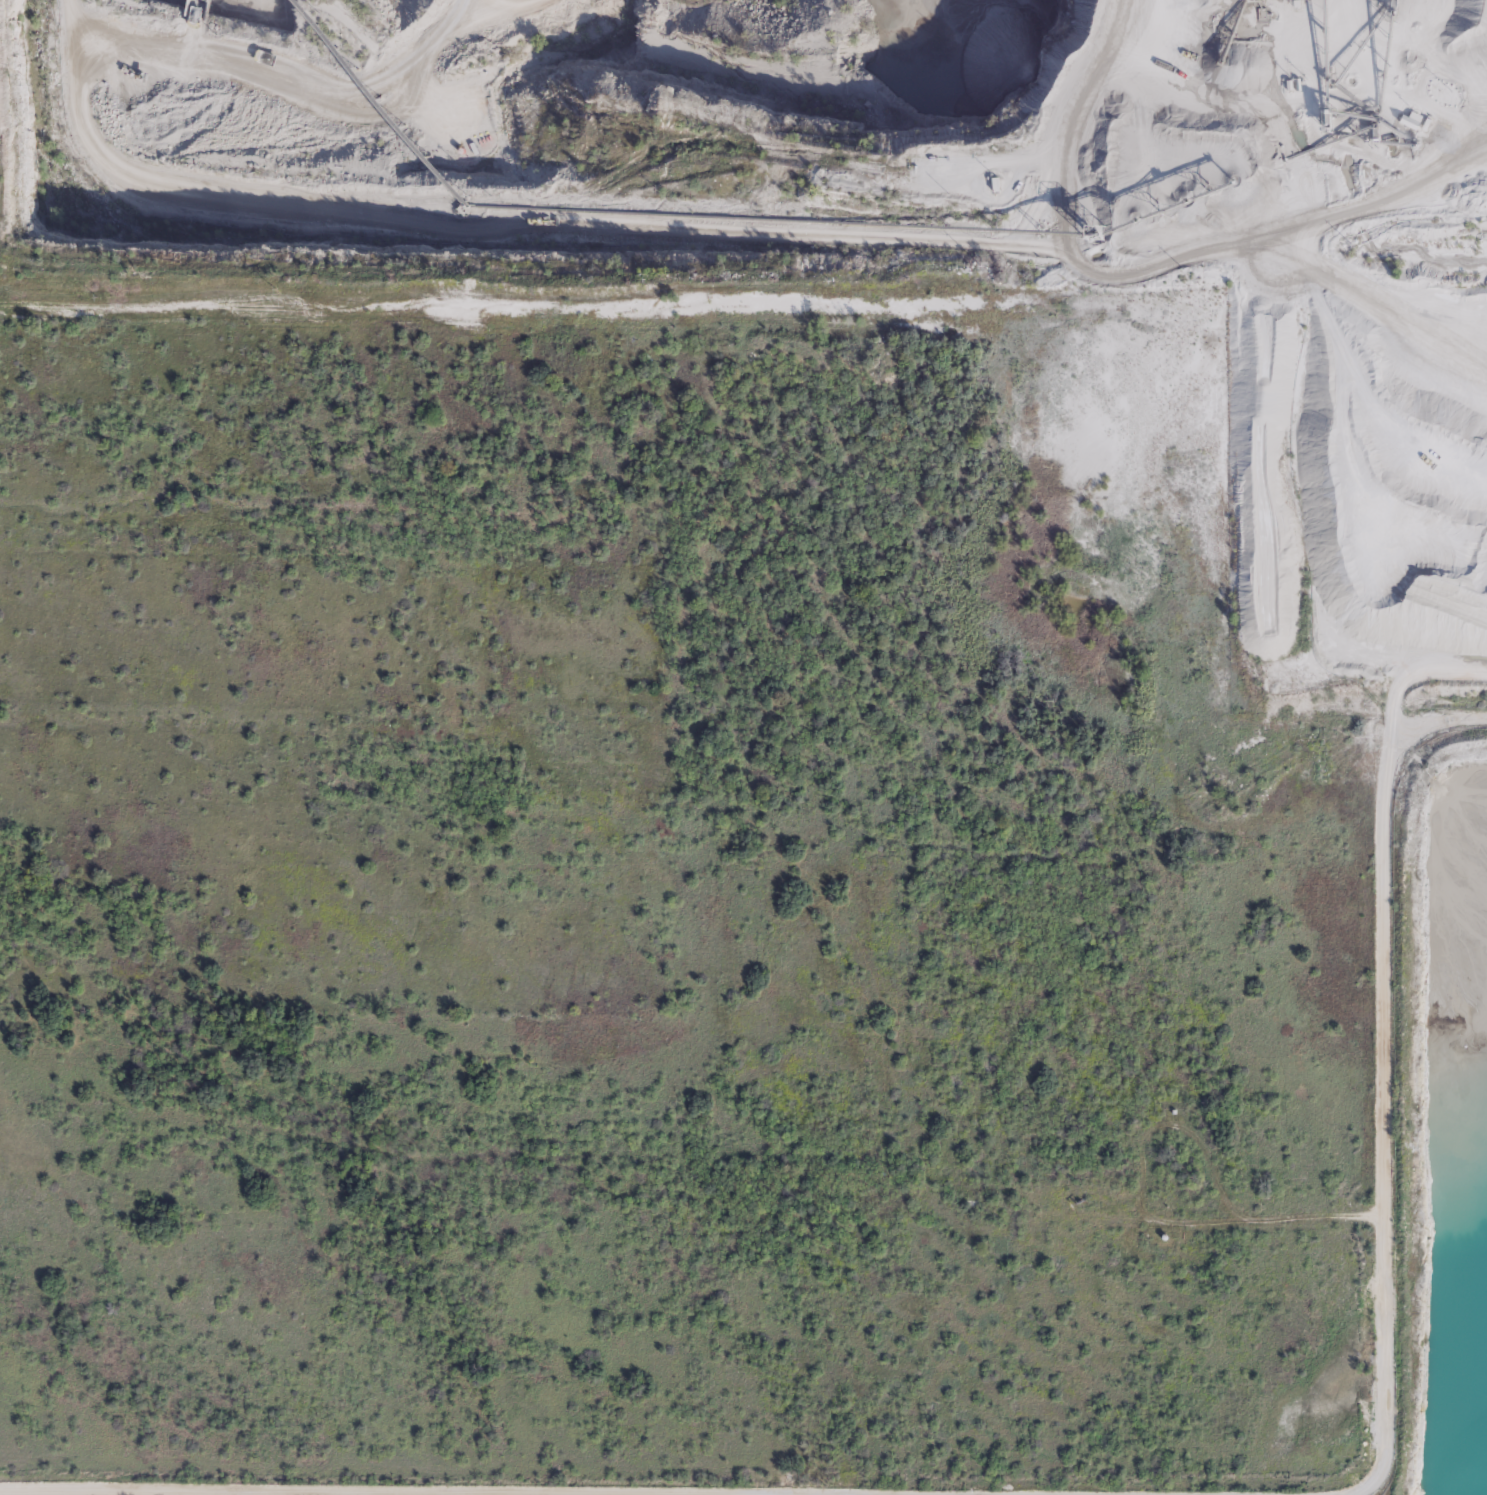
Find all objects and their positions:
quarry: (903, 257)
road: (1382, 1070)
quarry: (1448, 1123)
road: (390, 1491)

